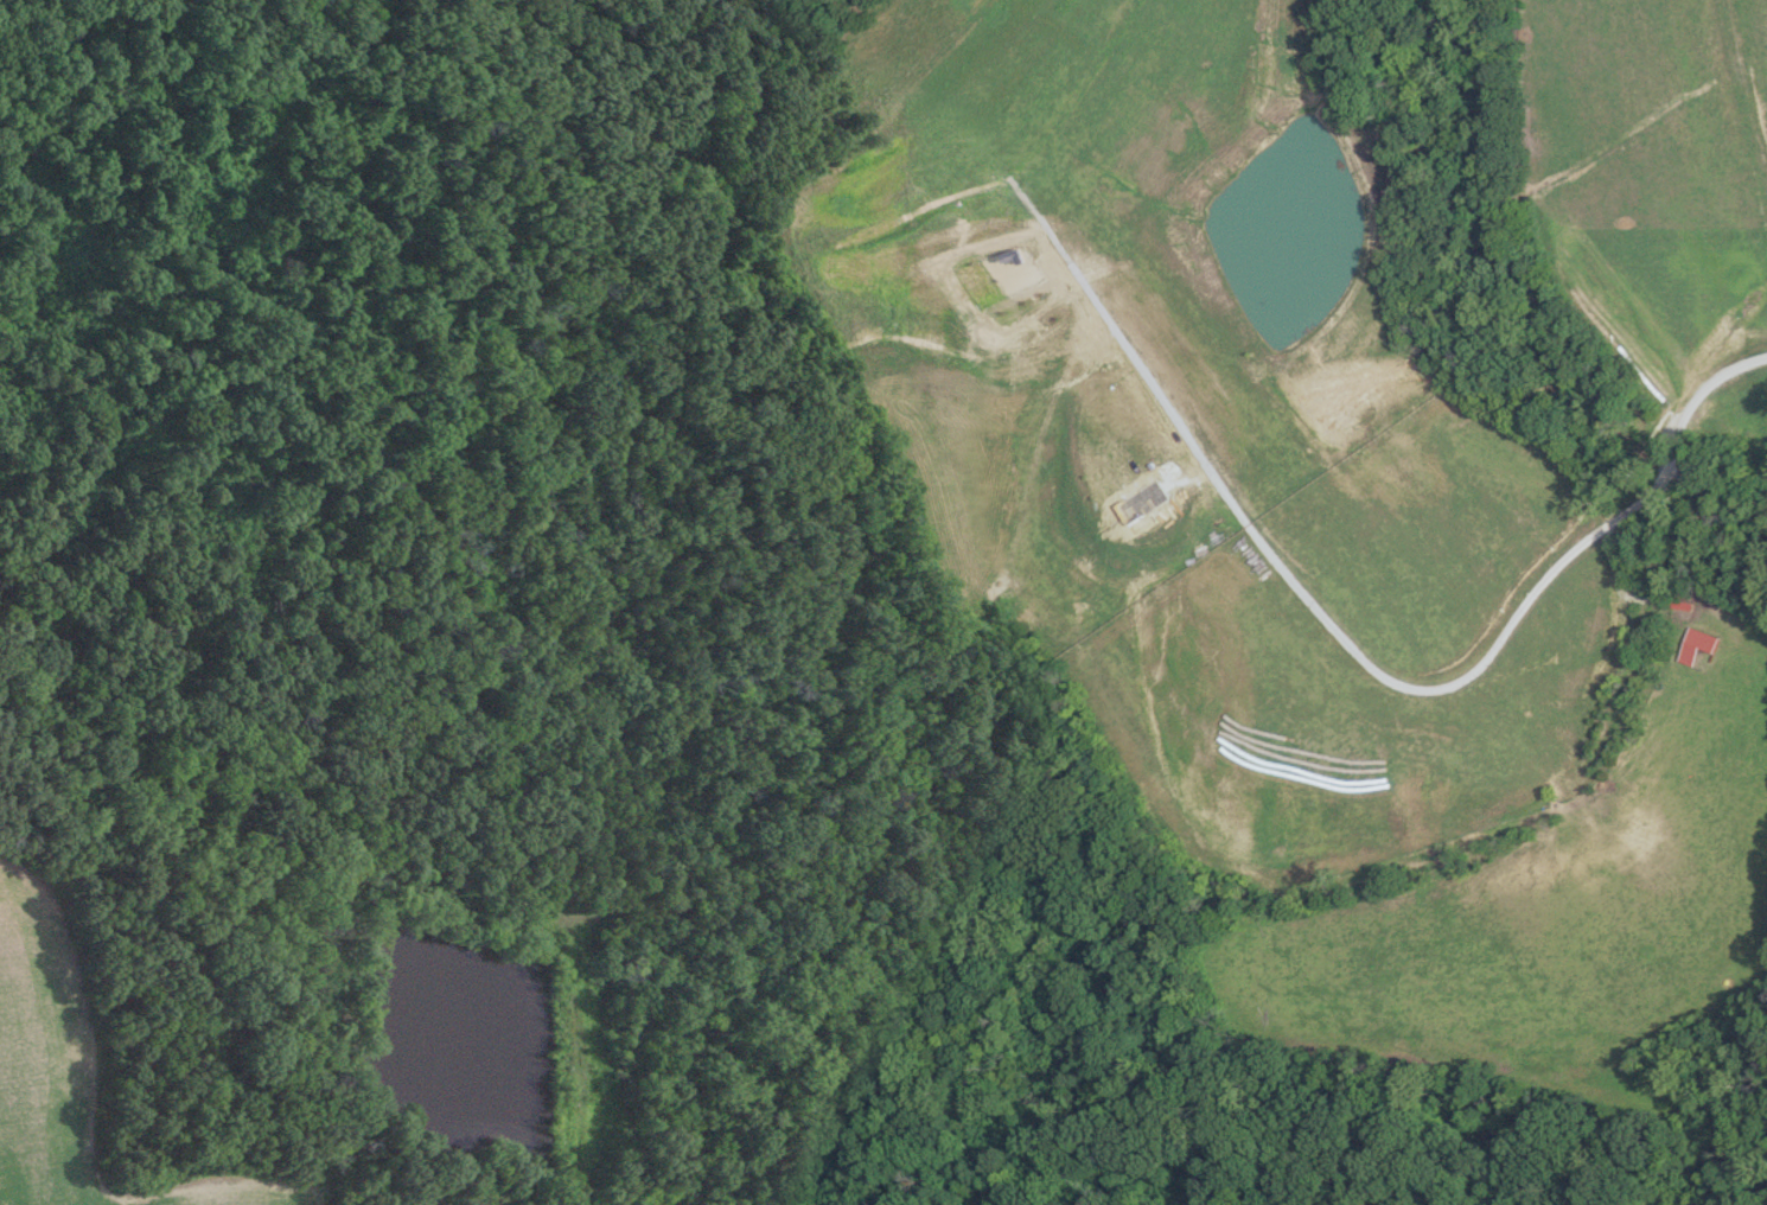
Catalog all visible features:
road: (1530, 597)

